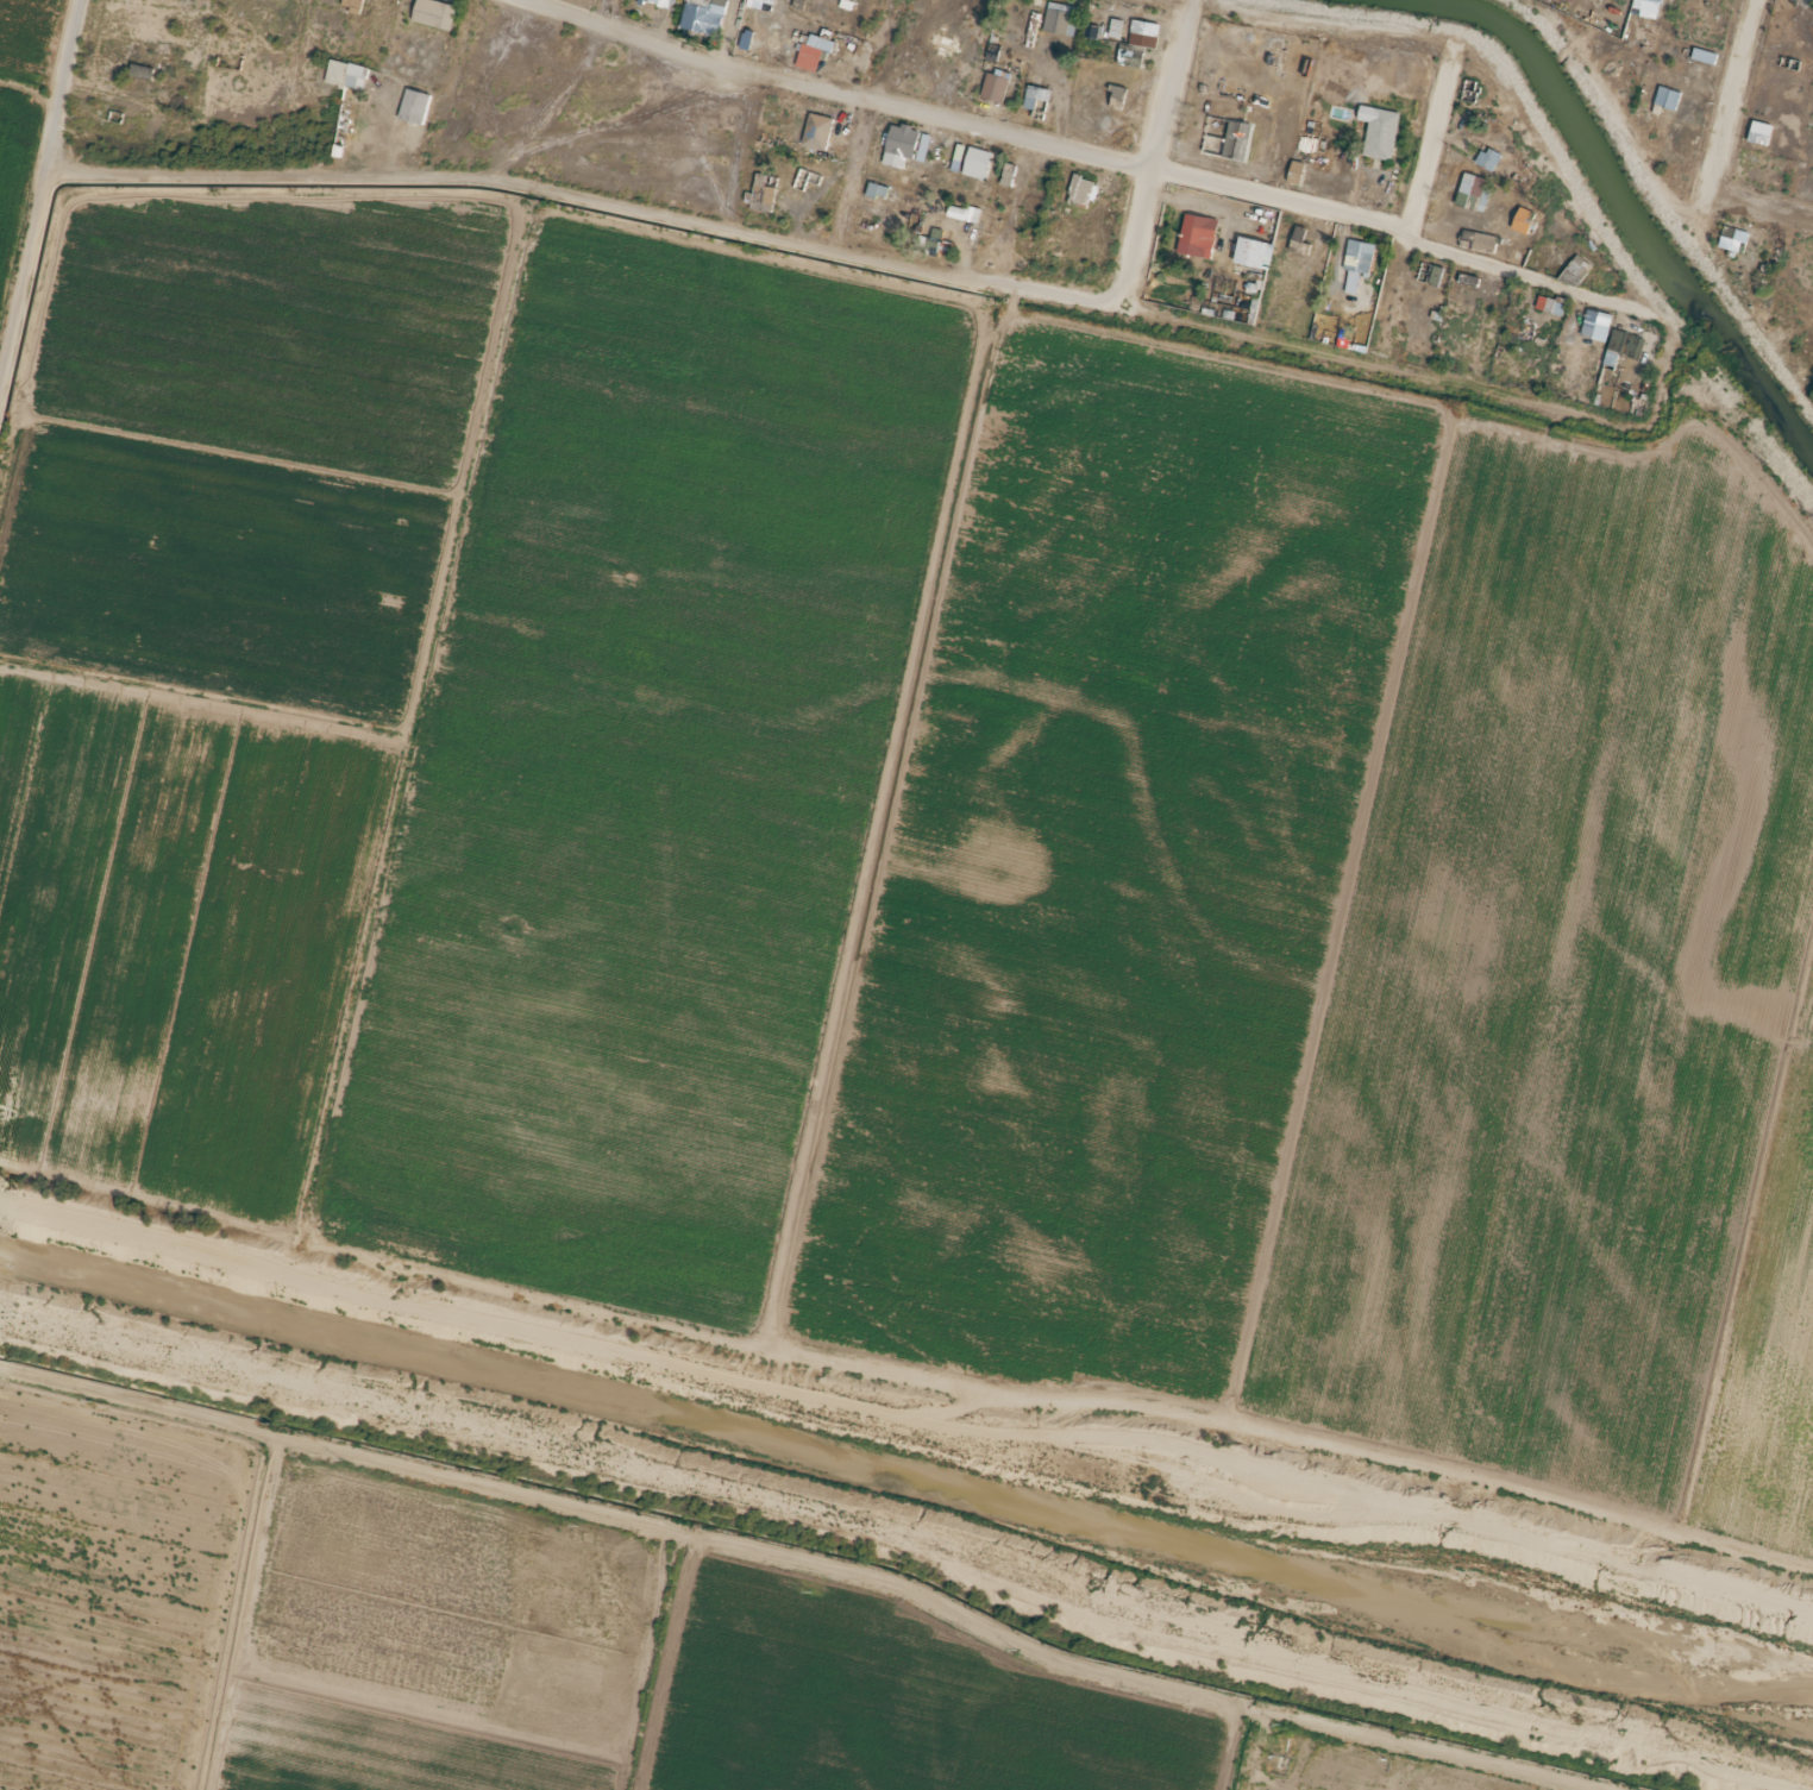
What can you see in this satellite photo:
road: (1718, 100)

